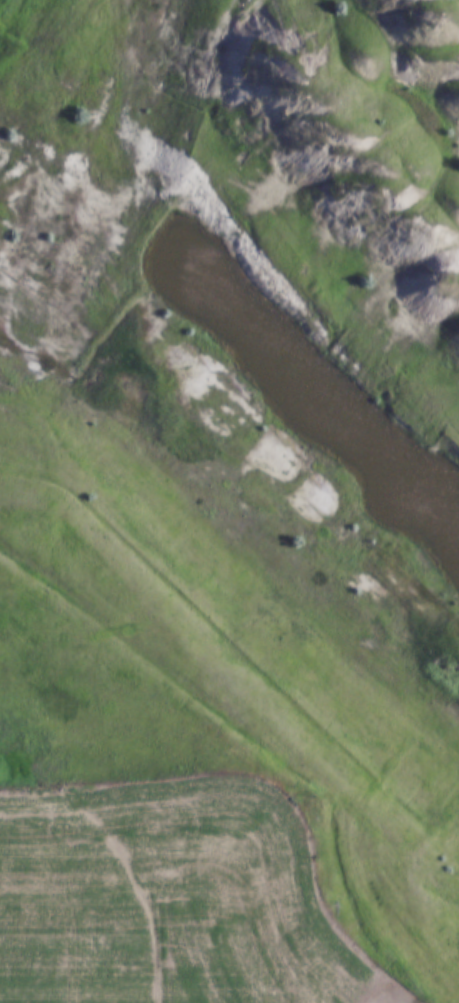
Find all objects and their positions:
quarry: (254, 339)

